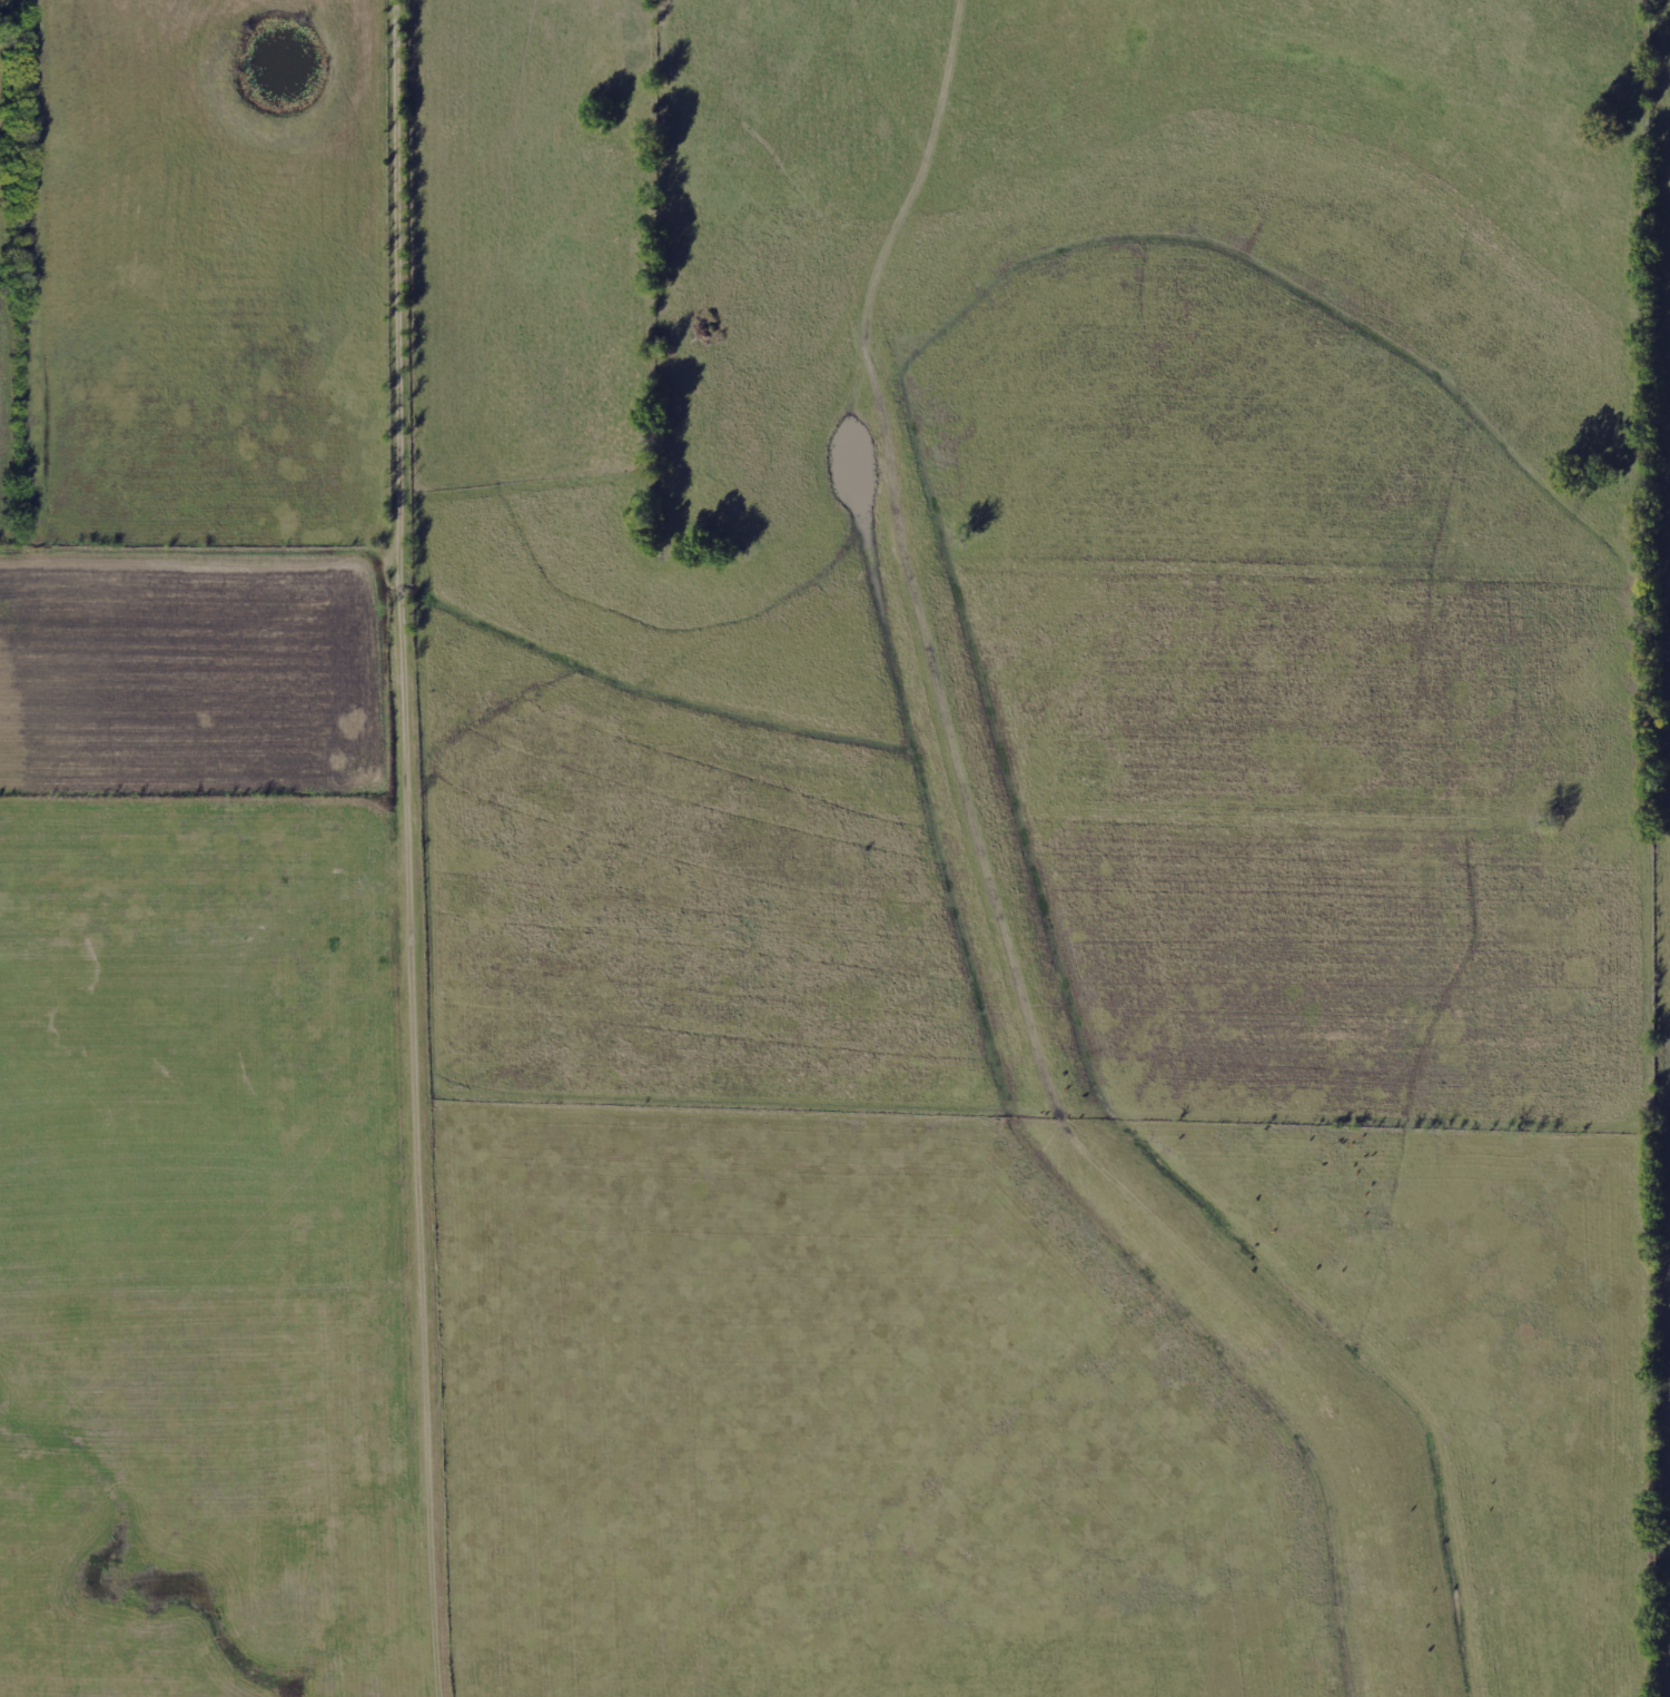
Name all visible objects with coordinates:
road: (419, 848)

